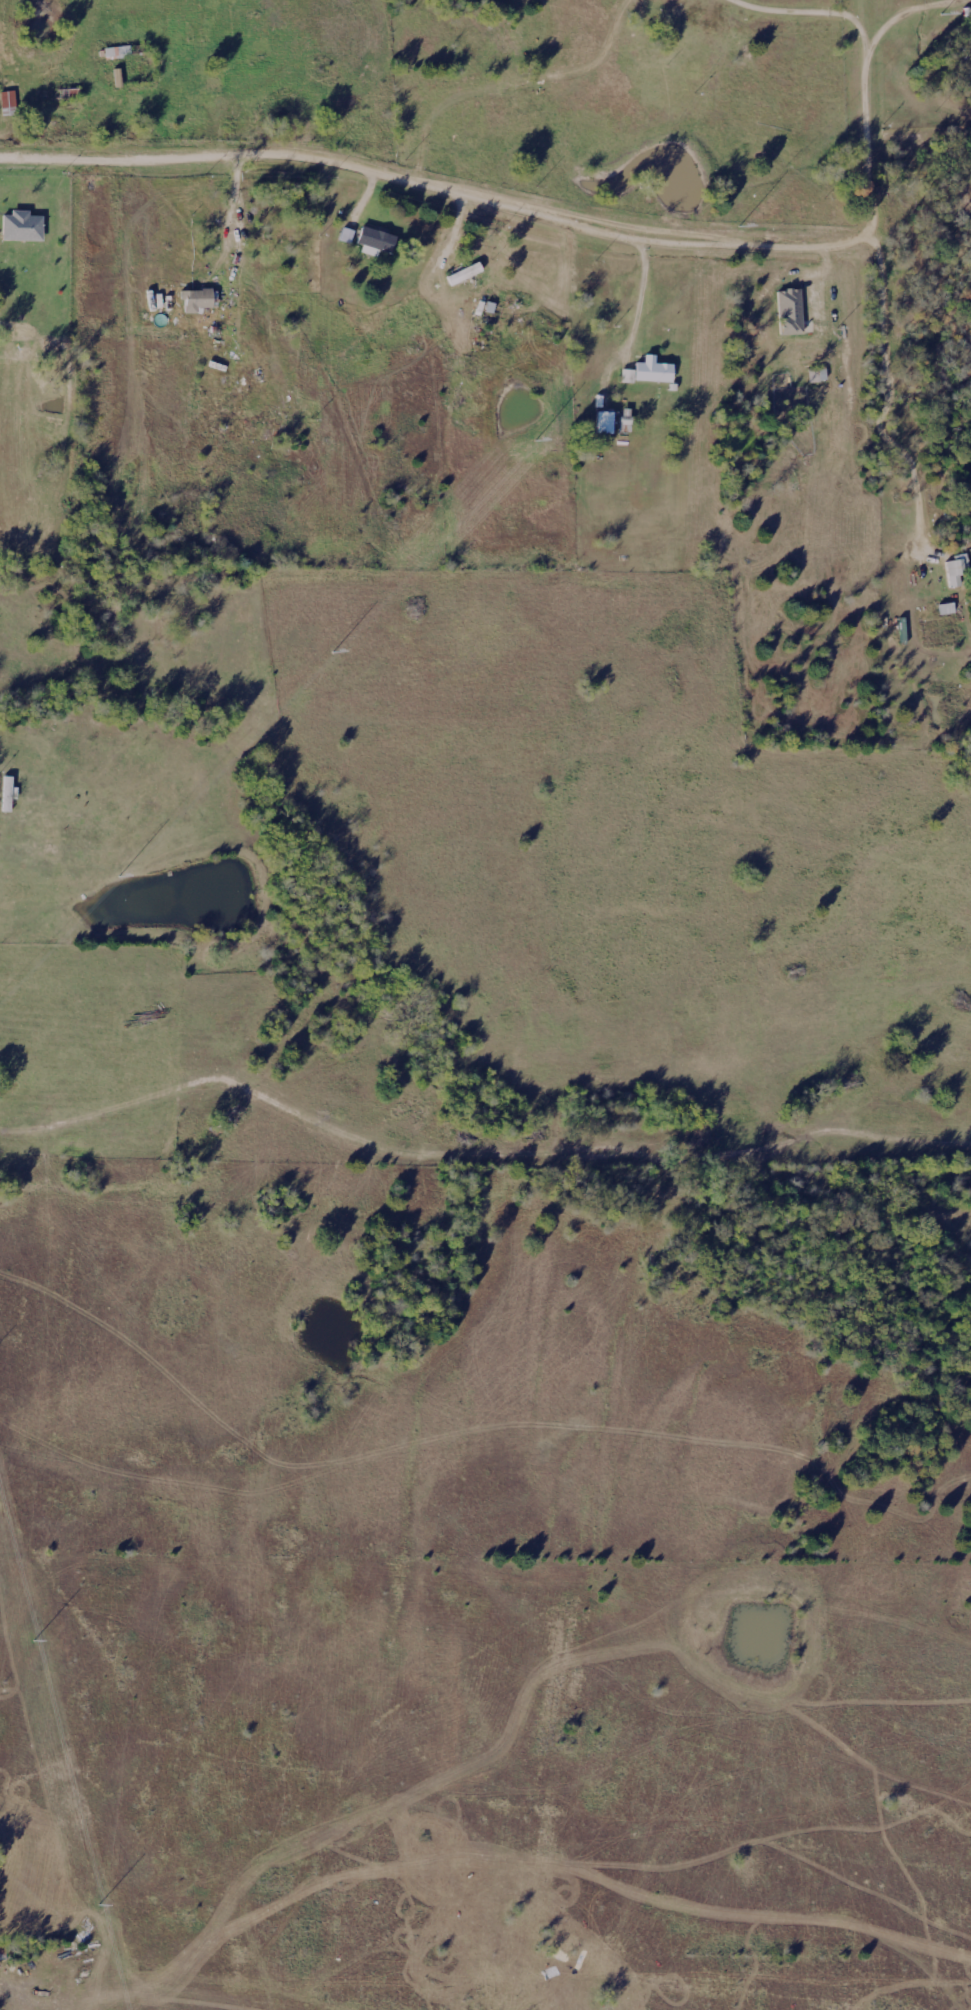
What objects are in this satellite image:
road: (908, 12)
building: (119, 56)
building: (6, 106)
road: (523, 204)
building: (19, 229)
building: (348, 235)
building: (373, 242)
building: (462, 277)
road: (245, 281)
road: (642, 288)
building: (199, 300)
building: (493, 307)
building: (787, 309)
building: (787, 332)
road: (38, 339)
building: (648, 375)
building: (607, 423)
building: (125, 535)
building: (957, 568)
building: (5, 796)
road: (247, 1157)

